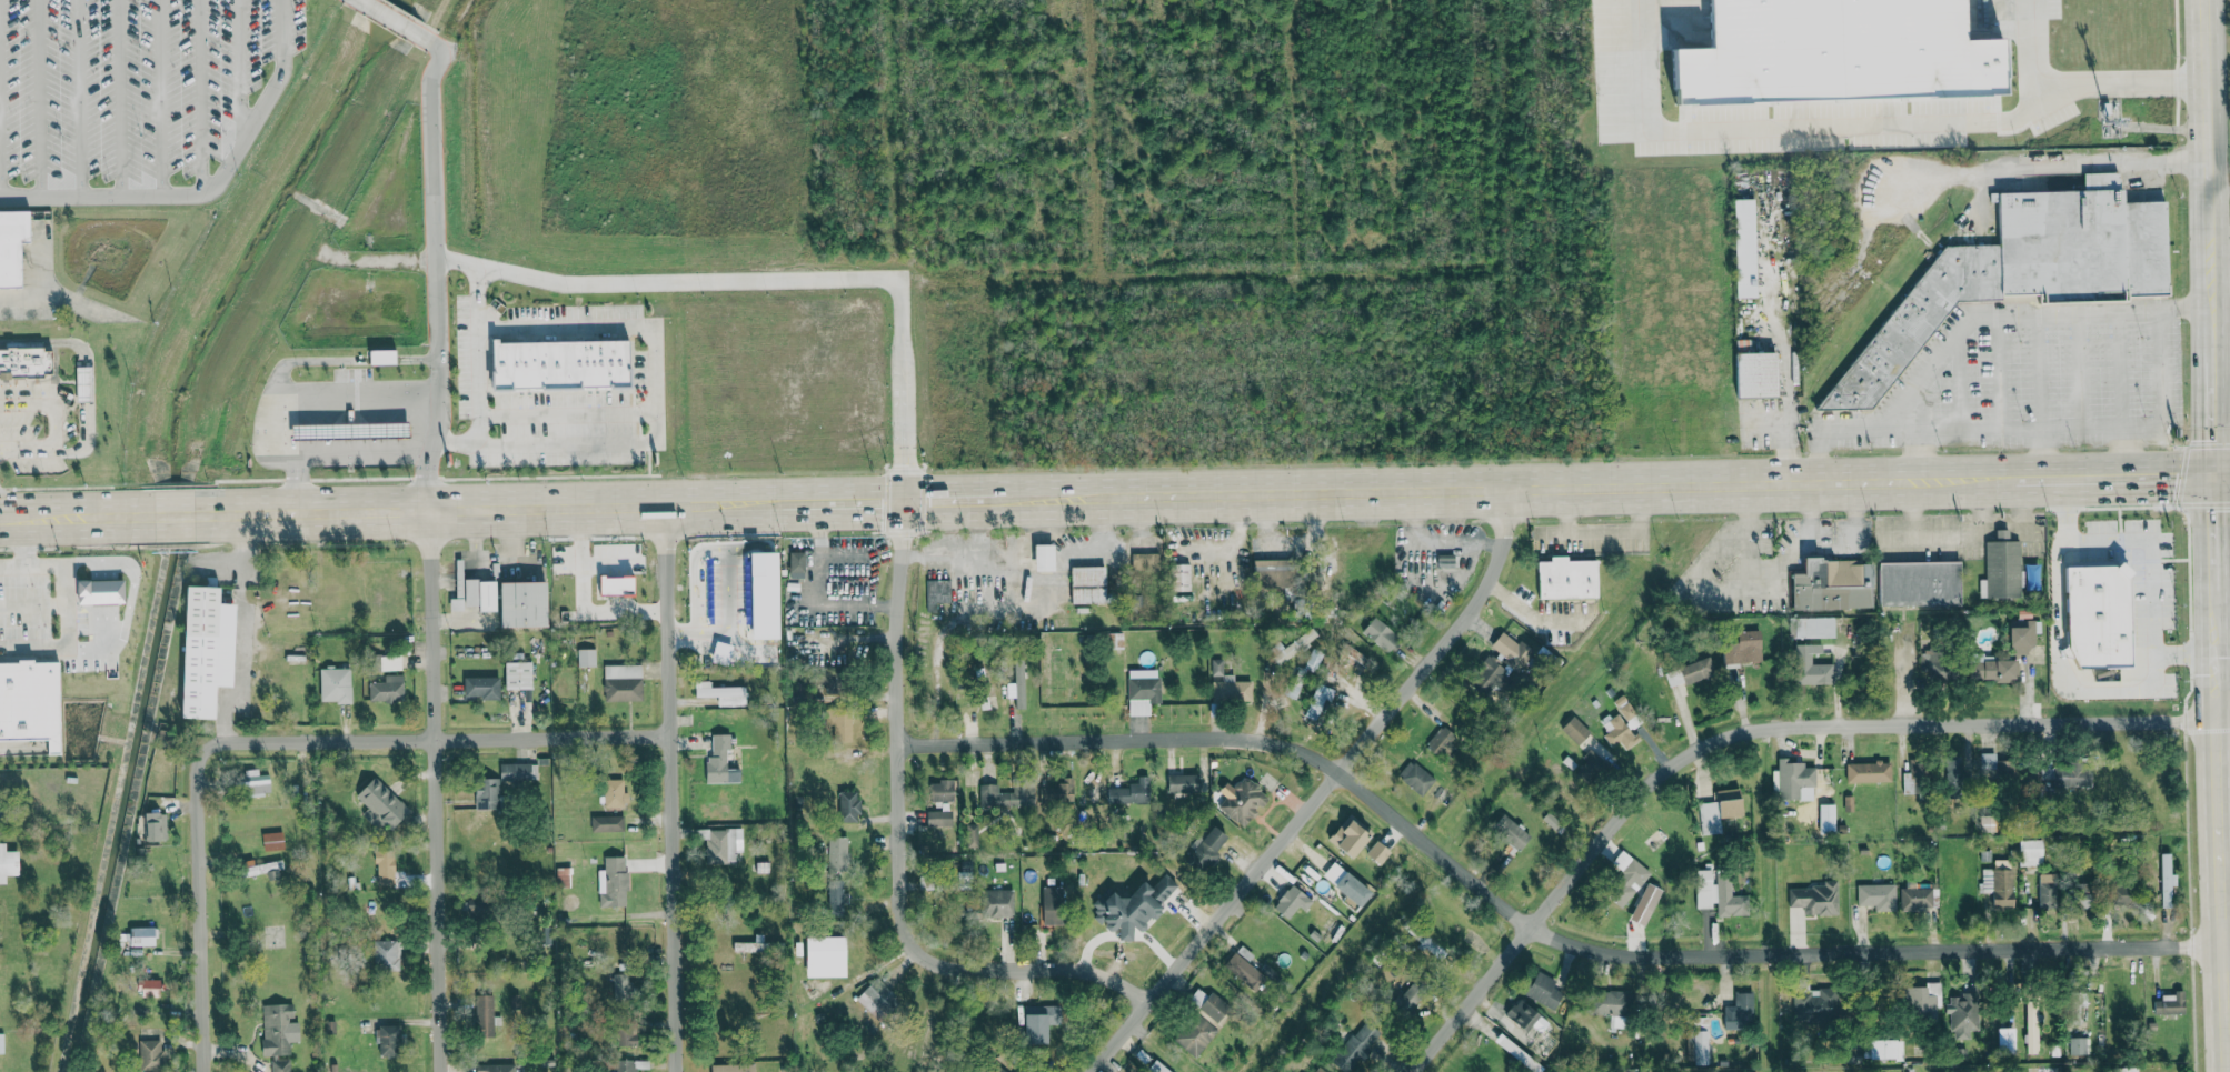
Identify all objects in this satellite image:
road: (392, 19)
building: (1821, 63)
road: (232, 69)
road: (2081, 83)
parking lot: (136, 88)
road: (73, 94)
road: (116, 94)
road: (155, 94)
road: (195, 94)
road: (33, 96)
road: (1814, 129)
road: (2202, 139)
road: (427, 143)
road: (2067, 161)
road: (2217, 178)
road: (205, 186)
road: (2218, 239)
building: (13, 247)
building: (1740, 248)
building: (2017, 271)
road: (2218, 277)
road: (641, 278)
road: (2207, 291)
road: (474, 293)
road: (1769, 305)
road: (1965, 325)
road: (2208, 333)
road: (648, 343)
building: (386, 357)
building: (26, 363)
building: (564, 364)
road: (2122, 365)
road: (2079, 367)
road: (2000, 368)
road: (2040, 368)
building: (1750, 374)
building: (83, 384)
road: (285, 388)
road: (561, 409)
road: (2210, 418)
building: (349, 419)
road: (1768, 421)
road: (2077, 423)
road: (54, 427)
building: (350, 434)
gas station: (350, 434)
road: (1789, 437)
road: (2124, 450)
road: (2042, 451)
road: (1915, 452)
road: (358, 454)
road: (2220, 474)
road: (1649, 485)
road: (1048, 499)
road: (955, 500)
road: (836, 502)
road: (718, 503)
road: (1912, 507)
road: (438, 511)
road: (171, 515)
road: (52, 517)
road: (108, 517)
road: (11, 518)
road: (2002, 531)
road: (2221, 540)
road: (23, 541)
road: (2111, 541)
building: (1047, 558)
building: (1145, 562)
road: (2213, 563)
road: (11, 565)
building: (797, 565)
building: (2000, 568)
road: (130, 569)
building: (1270, 572)
road: (1028, 577)
building: (1563, 580)
building: (1913, 582)
building: (1828, 583)
building: (618, 585)
building: (1091, 585)
building: (102, 591)
building: (484, 594)
building: (937, 594)
road: (32, 605)
building: (527, 605)
road: (1527, 614)
building: (2088, 617)
road: (66, 618)
building: (1812, 627)
road: (249, 630)
building: (1376, 633)
building: (2018, 635)
building: (1745, 645)
road: (93, 647)
building: (1288, 648)
building: (211, 651)
building: (1506, 652)
building: (1725, 653)
road: (2162, 653)
building: (586, 658)
building: (391, 662)
building: (1216, 667)
building: (1806, 668)
building: (1984, 668)
building: (1686, 673)
building: (519, 675)
building: (623, 682)
building: (337, 685)
building: (388, 689)
building: (482, 689)
building: (1014, 689)
building: (1143, 690)
building: (1232, 690)
building: (724, 693)
building: (1316, 700)
building: (31, 702)
road: (2224, 723)
building: (845, 724)
building: (1571, 729)
road: (1741, 730)
building: (1614, 731)
road: (435, 738)
building: (1438, 742)
building: (721, 760)
building: (1985, 764)
building: (516, 771)
building: (1864, 772)
building: (1413, 777)
building: (2057, 779)
building: (1791, 781)
building: (256, 782)
building: (1908, 782)
building: (1184, 788)
road: (670, 789)
building: (1064, 790)
road: (1320, 790)
road: (435, 791)
building: (1132, 792)
building: (487, 793)
building: (615, 793)
building: (1011, 794)
building: (1242, 800)
building: (943, 803)
building: (849, 805)
building: (382, 806)
building: (1714, 811)
building: (1823, 819)
building: (607, 823)
building: (152, 825)
building: (1506, 832)
building: (1353, 835)
building: (272, 841)
building: (724, 844)
building: (1207, 849)
road: (897, 850)
building: (1380, 851)
building: (838, 852)
building: (2027, 852)
building: (9, 862)
road: (2220, 862)
building: (386, 866)
building: (262, 868)
building: (564, 875)
building: (1623, 879)
building: (2161, 880)
building: (614, 881)
building: (926, 882)
building: (1348, 883)
building: (1995, 884)
building: (2118, 892)
building: (835, 893)
building: (1711, 893)
building: (1873, 895)
building: (1912, 898)
building: (1811, 899)
building: (1293, 900)
building: (999, 902)
building: (1135, 904)
building: (1641, 904)
building: (1055, 905)
road: (197, 909)
road: (1530, 929)
building: (145, 935)
building: (749, 946)
building: (386, 954)
building: (828, 955)
building: (1244, 969)
building: (151, 985)
building: (625, 985)
building: (1544, 990)
building: (1410, 998)
building: (877, 999)
building: (1601, 1002)
building: (1811, 1003)
building: (2164, 1004)
building: (1915, 1005)
building: (1740, 1006)
building: (2071, 1006)
building: (1216, 1008)
building: (485, 1015)
building: (1960, 1015)
building: (1529, 1018)
building: (1039, 1022)
building: (278, 1028)
building: (625, 1032)
building: (1195, 1034)
building: (388, 1040)
building: (1, 1043)
building: (1696, 1045)
building: (2077, 1045)
building: (1354, 1046)
building: (151, 1055)
building: (280, 1065)
building: (499, 1068)
building: (733, 1068)
building: (1157, 1068)
building: (999, 1070)
building: (1317, 1070)
building: (2123, 1070)

